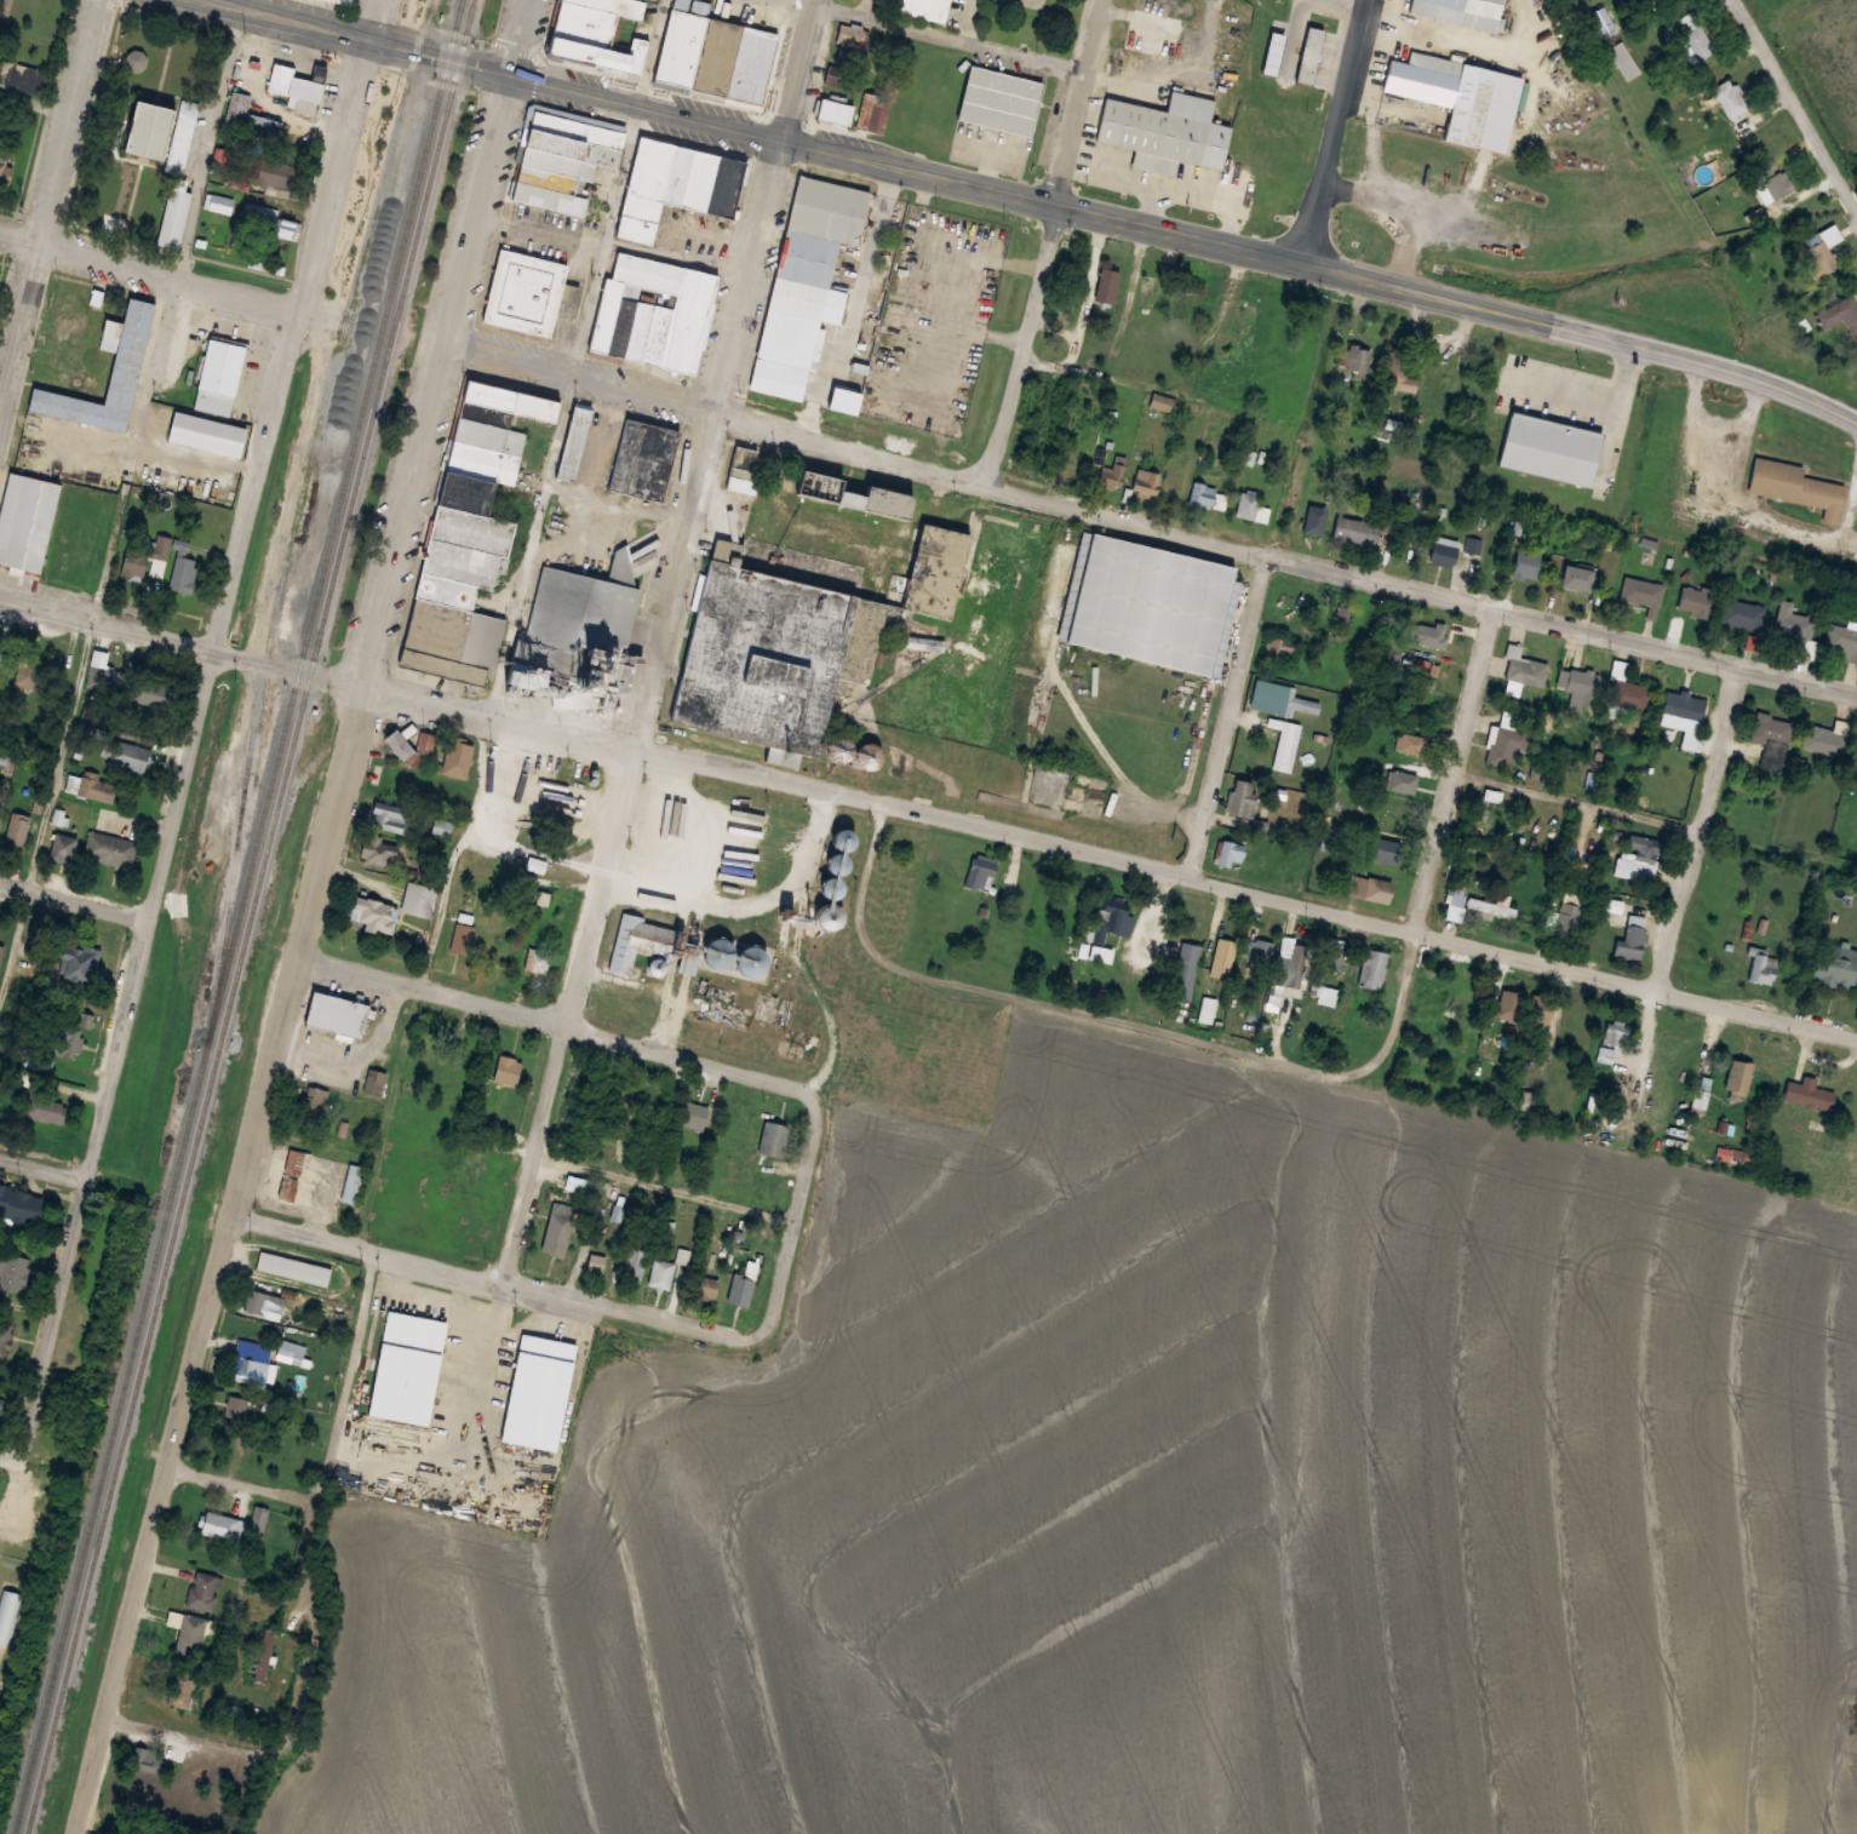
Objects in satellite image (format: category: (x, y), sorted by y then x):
parking lot: (359, 0)
building: (344, 1)
road: (248, 2)
parking lot: (385, 5)
building: (924, 8)
building: (1463, 11)
parking lot: (411, 12)
building: (1604, 22)
building: (1176, 27)
building: (600, 35)
road: (942, 35)
road: (369, 36)
building: (1697, 38)
building: (850, 41)
crop: (1830, 47)
road: (650, 50)
building: (1273, 53)
building: (711, 55)
building: (1308, 55)
building: (1626, 61)
building: (841, 76)
building: (22, 78)
building: (297, 87)
building: (1446, 92)
road: (1792, 96)
building: (1731, 98)
building: (998, 101)
road: (36, 103)
building: (833, 110)
road: (71, 122)
building: (259, 126)
building: (1169, 130)
building: (141, 131)
road: (1336, 131)
building: (183, 136)
road: (338, 154)
building: (562, 157)
road: (378, 159)
road: (907, 168)
road: (485, 172)
building: (276, 173)
building: (1771, 180)
parking lot: (351, 183)
building: (675, 184)
road: (1851, 200)
building: (220, 204)
power tower: (25, 207)
road: (768, 207)
building: (269, 222)
road: (1049, 242)
building: (1822, 252)
road: (167, 276)
building: (804, 281)
building: (1108, 286)
building: (523, 291)
building: (1146, 297)
building: (1183, 300)
building: (1070, 303)
building: (68, 309)
building: (653, 311)
building: (1842, 315)
building: (1243, 316)
road: (21, 328)
road: (1584, 331)
building: (1356, 357)
road: (573, 363)
building: (124, 368)
building: (1394, 369)
building: (219, 373)
road: (1113, 377)
building: (1162, 402)
building: (572, 441)
building: (1549, 447)
building: (643, 459)
building: (739, 469)
building: (1113, 475)
building: (1145, 481)
building: (1796, 487)
building: (850, 494)
building: (1202, 494)
building: (1249, 506)
road: (122, 512)
railway: (302, 516)
building: (24, 520)
building: (1313, 521)
road: (1147, 523)
building: (1357, 532)
building: (466, 533)
building: (1475, 545)
building: (1443, 550)
building: (147, 554)
building: (1526, 562)
building: (183, 573)
building: (1575, 577)
building: (1643, 594)
building: (1695, 600)
building: (1152, 603)
building: (797, 614)
building: (1743, 614)
building: (1794, 623)
building: (584, 627)
road: (149, 634)
building: (1444, 637)
building: (1842, 640)
building: (0, 643)
building: (33, 669)
building: (1528, 669)
building: (1582, 684)
building: (1630, 693)
building: (1303, 704)
building: (1683, 706)
road: (1232, 716)
railway: (689, 732)
building: (1826, 738)
building: (1772, 739)
building: (1410, 744)
building: (1508, 744)
building: (1289, 746)
building: (124, 753)
building: (455, 758)
road: (1456, 768)
road: (334, 779)
building: (1402, 781)
building: (1045, 784)
building: (1243, 797)
road: (1578, 802)
building: (1489, 814)
building: (0, 816)
building: (386, 820)
road: (1701, 829)
building: (15, 831)
building: (62, 847)
building: (109, 849)
road: (614, 849)
building: (378, 850)
road: (1078, 850)
building: (1381, 850)
building: (1231, 854)
building: (1639, 858)
building: (1369, 888)
building: (420, 899)
building: (1483, 901)
road: (76, 902)
building: (1612, 905)
building: (372, 913)
road: (156, 915)
railway: (239, 916)
railway: (250, 916)
building: (1567, 919)
building: (1107, 930)
building: (1633, 936)
building: (641, 942)
building: (0, 950)
building: (1259, 953)
building: (734, 956)
building: (1222, 957)
building: (1334, 957)
building: (75, 963)
building: (1299, 964)
building: (1834, 965)
building: (1372, 968)
building: (1761, 968)
building: (1186, 969)
road: (425, 981)
building: (1537, 1010)
building: (337, 1014)
road: (551, 1020)
road: (1120, 1021)
building: (1615, 1037)
building: (65, 1042)
building: (33, 1058)
road: (1646, 1062)
building: (506, 1070)
building: (1736, 1078)
building: (1807, 1093)
building: (311, 1105)
building: (42, 1107)
building: (694, 1114)
building: (773, 1139)
building: (1733, 1154)
building: (475, 1167)
road: (46, 1170)
building: (292, 1174)
building: (353, 1182)
road: (667, 1187)
building: (21, 1205)
road: (797, 1219)
building: (557, 1231)
building: (632, 1261)
building: (598, 1262)
building: (294, 1267)
building: (11, 1272)
building: (661, 1273)
road: (491, 1279)
building: (706, 1286)
building: (740, 1290)
building: (264, 1302)
building: (4, 1331)
building: (292, 1351)
building: (253, 1362)
building: (405, 1366)
road: (349, 1377)
building: (535, 1391)
building: (237, 1406)
road: (13, 1461)
road: (239, 1480)
crop: (1173, 1502)
road: (151, 1524)
building: (222, 1525)
building: (204, 1591)
building: (8, 1621)
road: (313, 1629)
building: (189, 1632)
building: (182, 1678)
road: (189, 1737)
building: (150, 1761)

